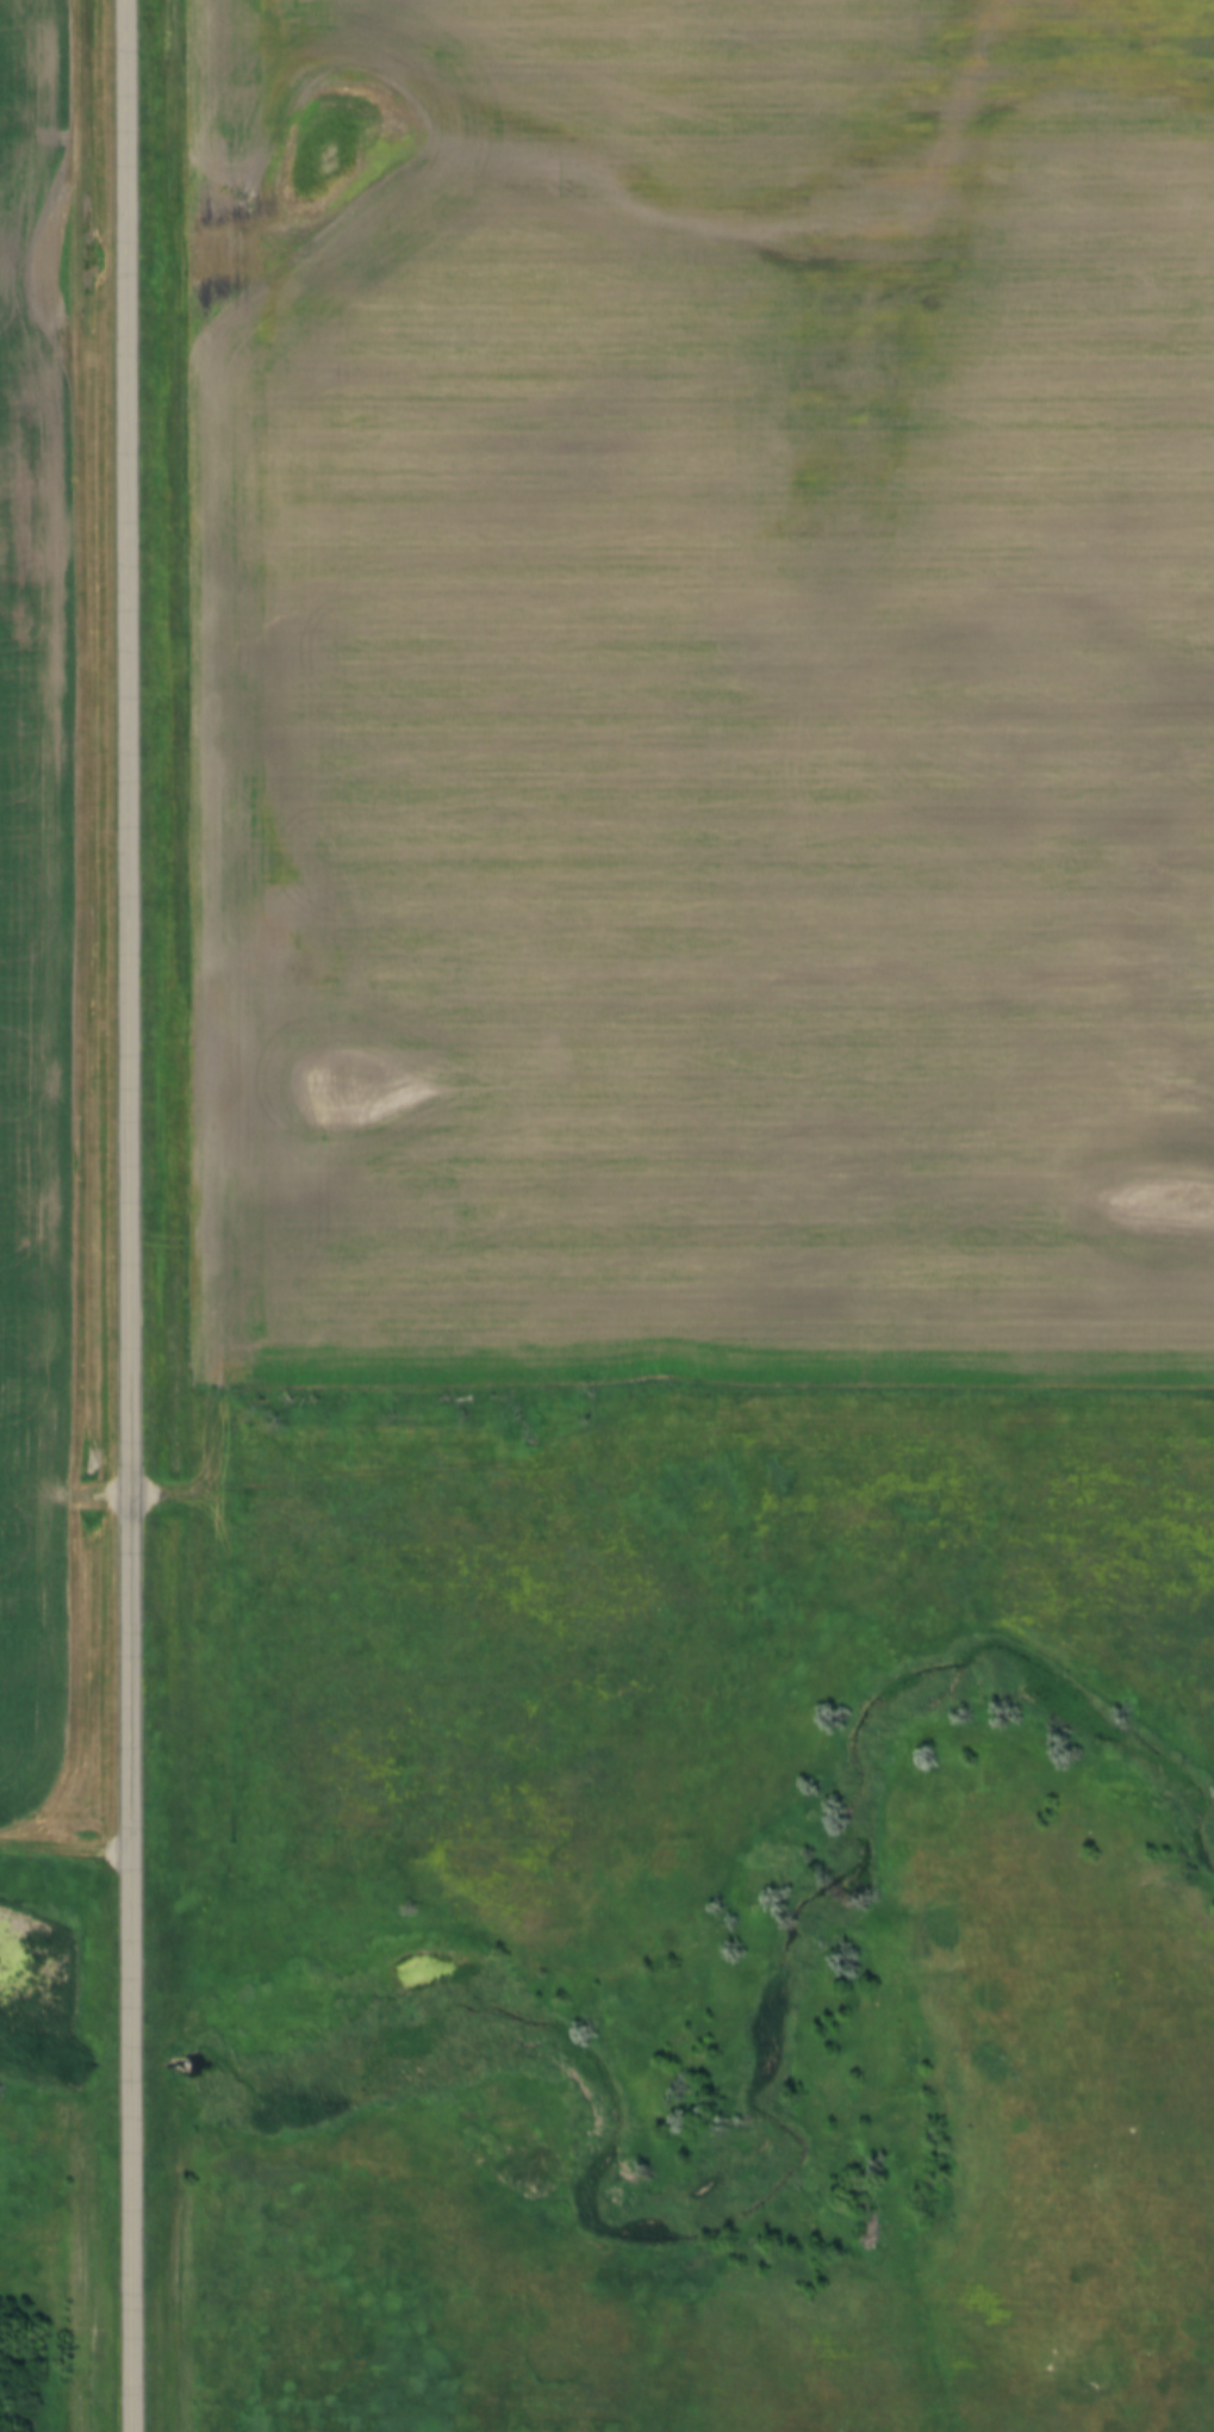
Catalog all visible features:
road: (132, 1215)
road: (67, 1851)

